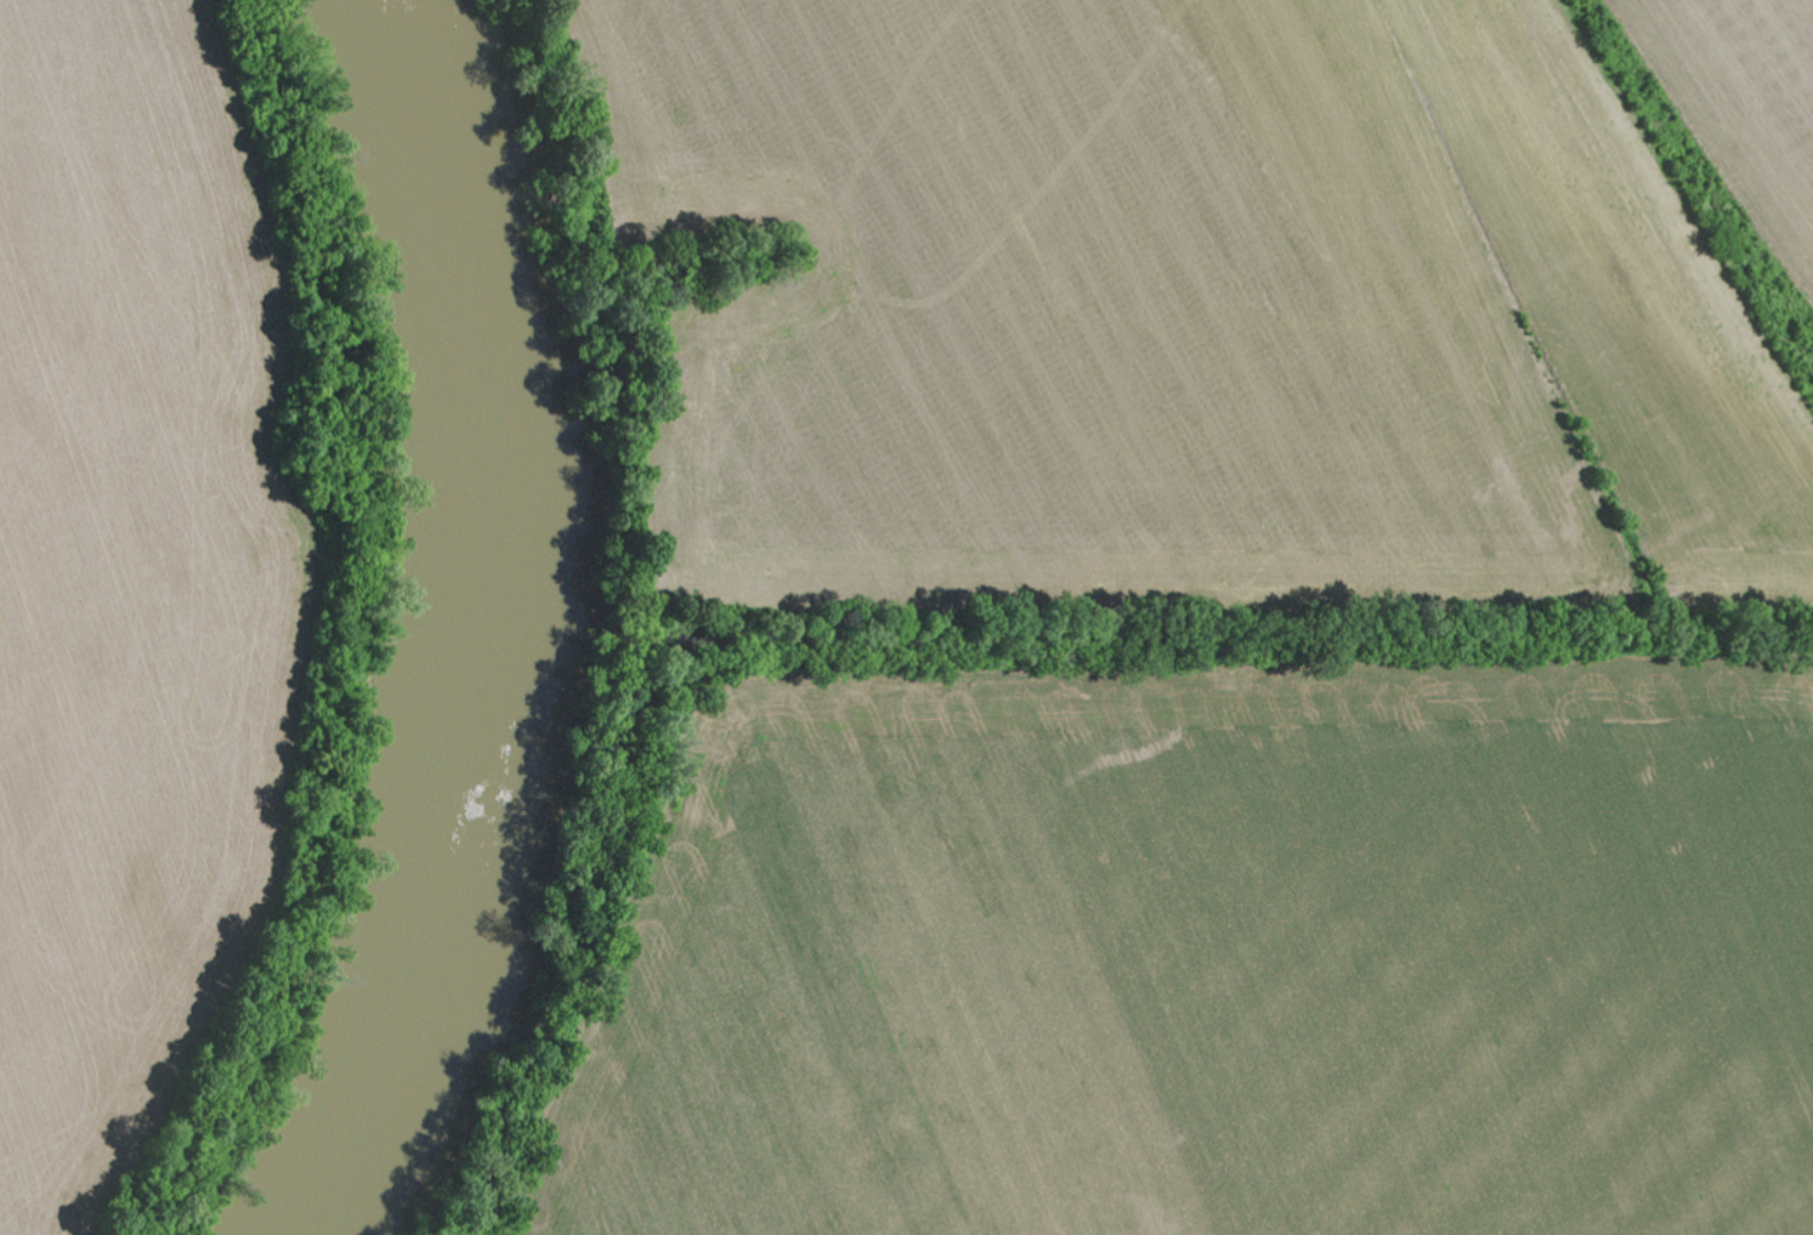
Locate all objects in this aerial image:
river: (449, 624)

